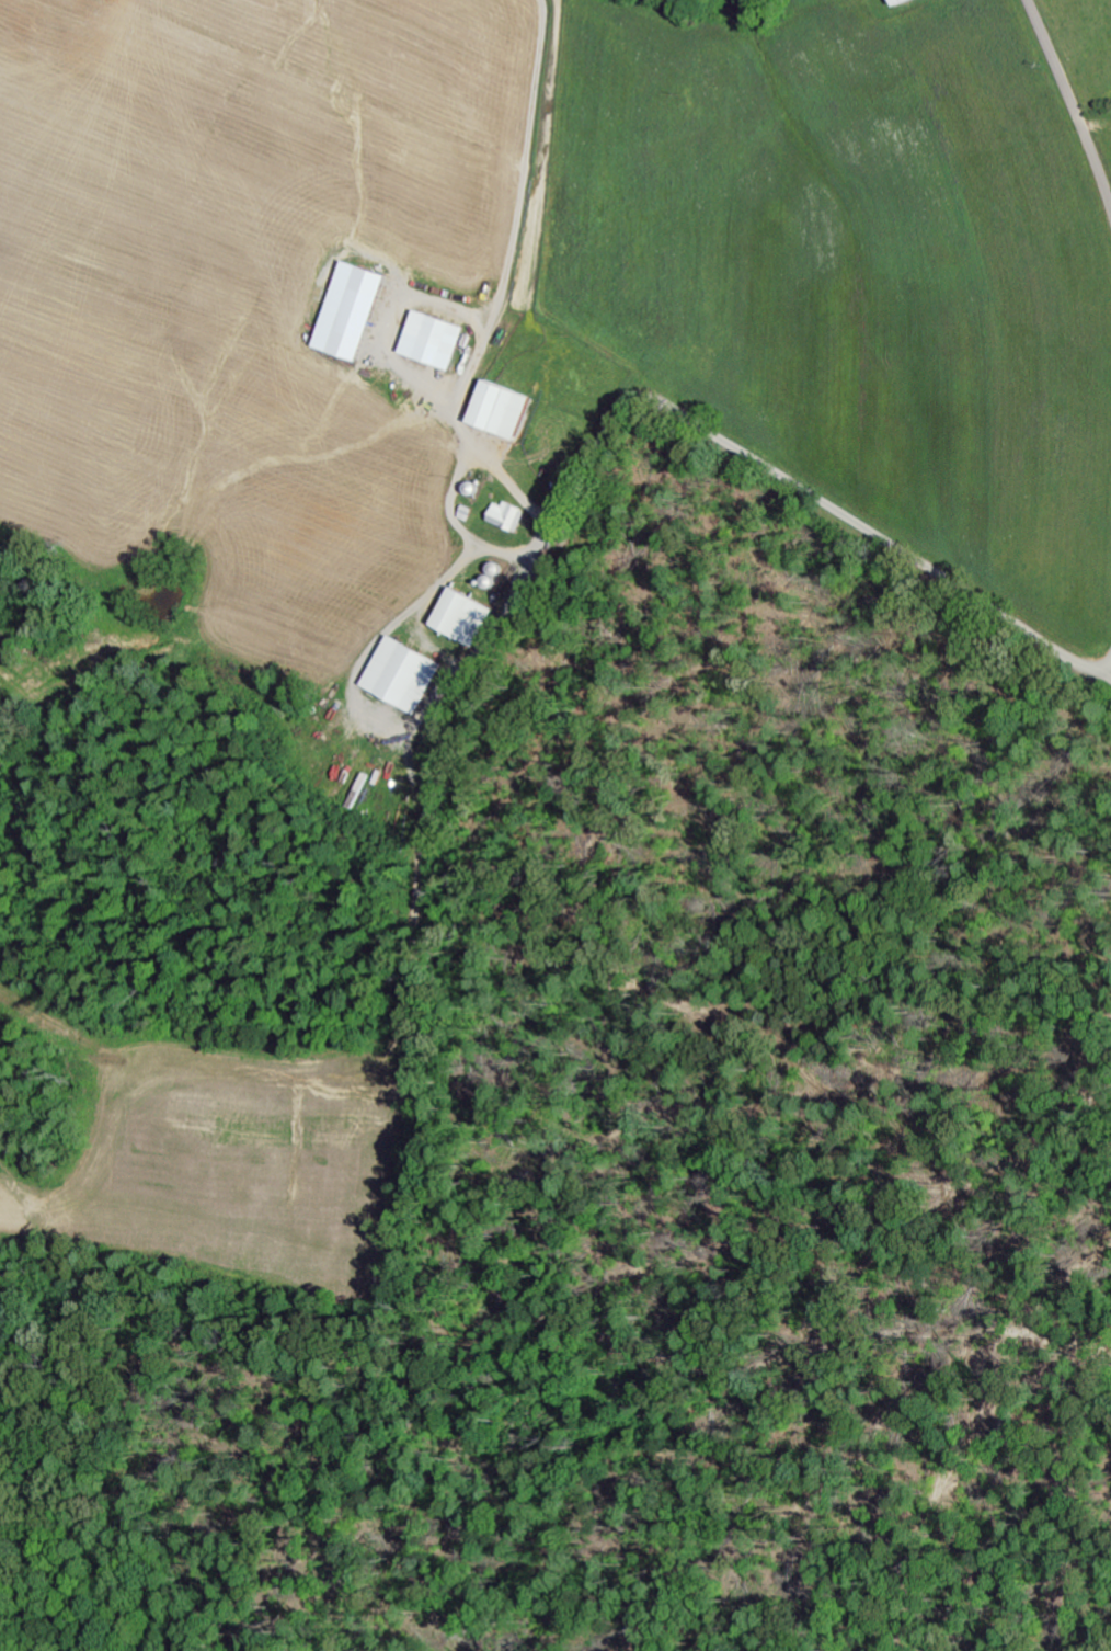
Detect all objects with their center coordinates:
building: (906, 2)
road: (1073, 106)
building: (353, 309)
building: (437, 339)
building: (506, 409)
road: (829, 508)
road: (564, 512)
building: (512, 515)
building: (467, 616)
building: (405, 674)

